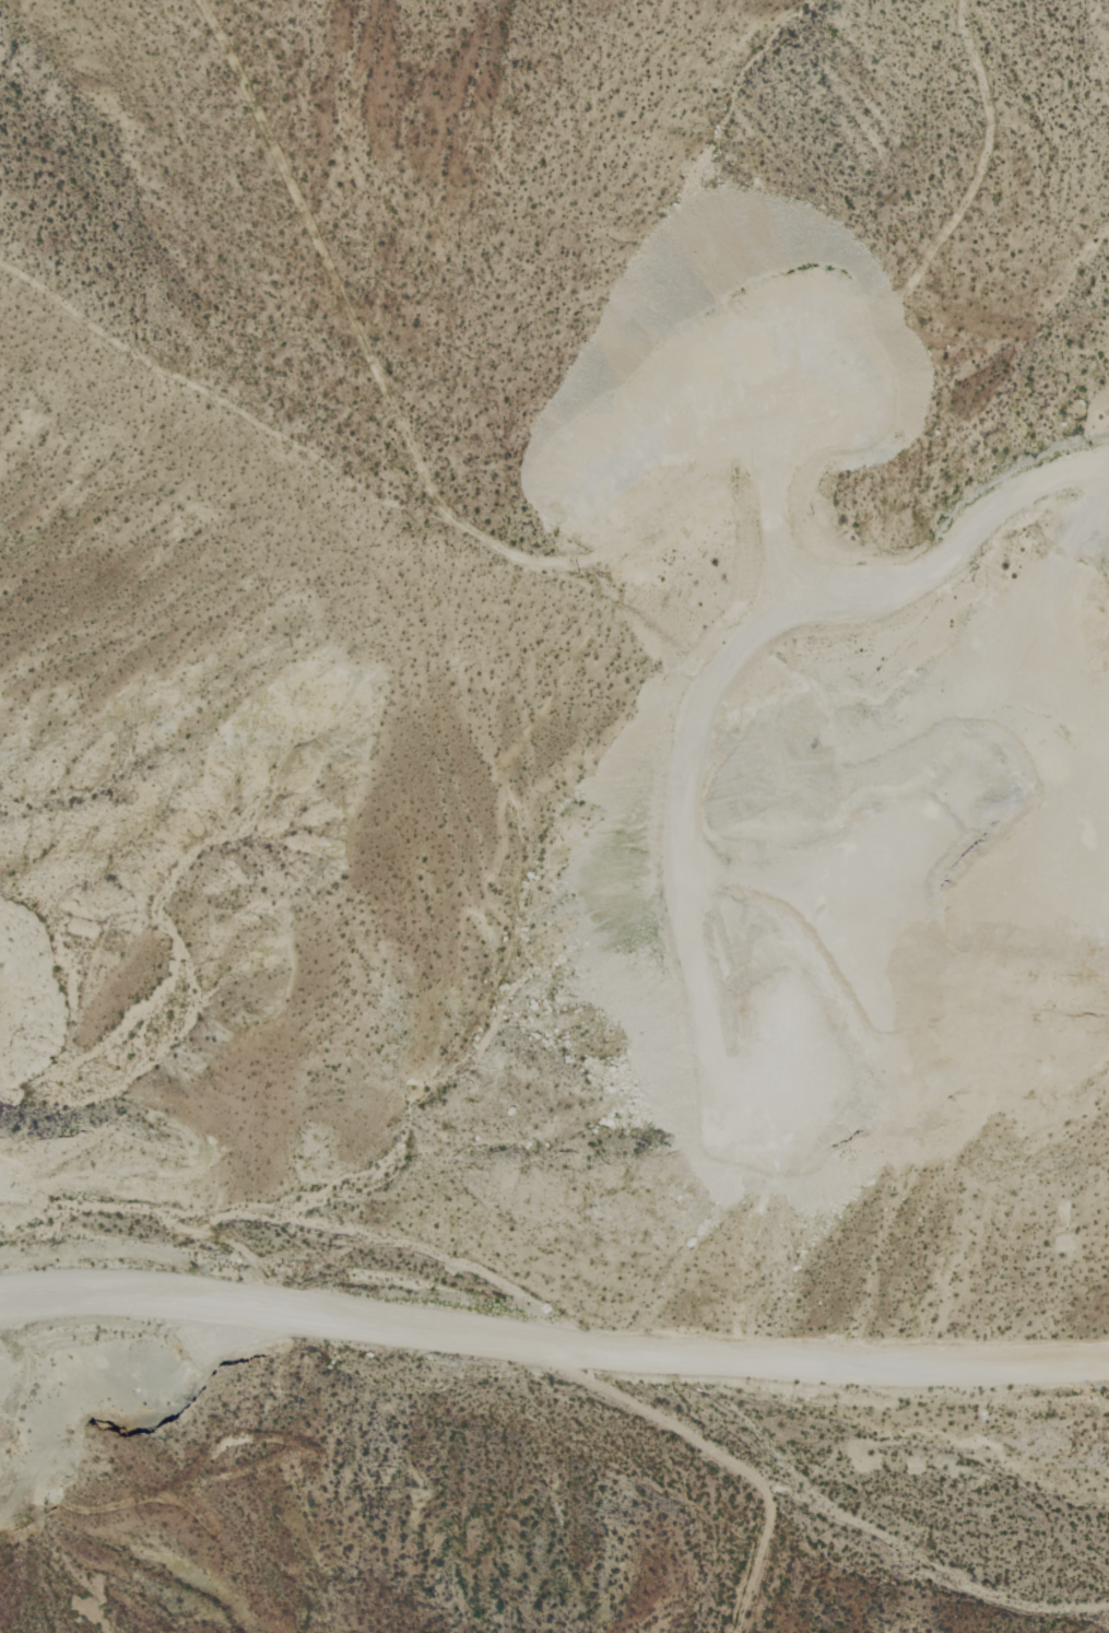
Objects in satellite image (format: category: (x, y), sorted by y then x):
road: (553, 1348)
road: (709, 1454)

